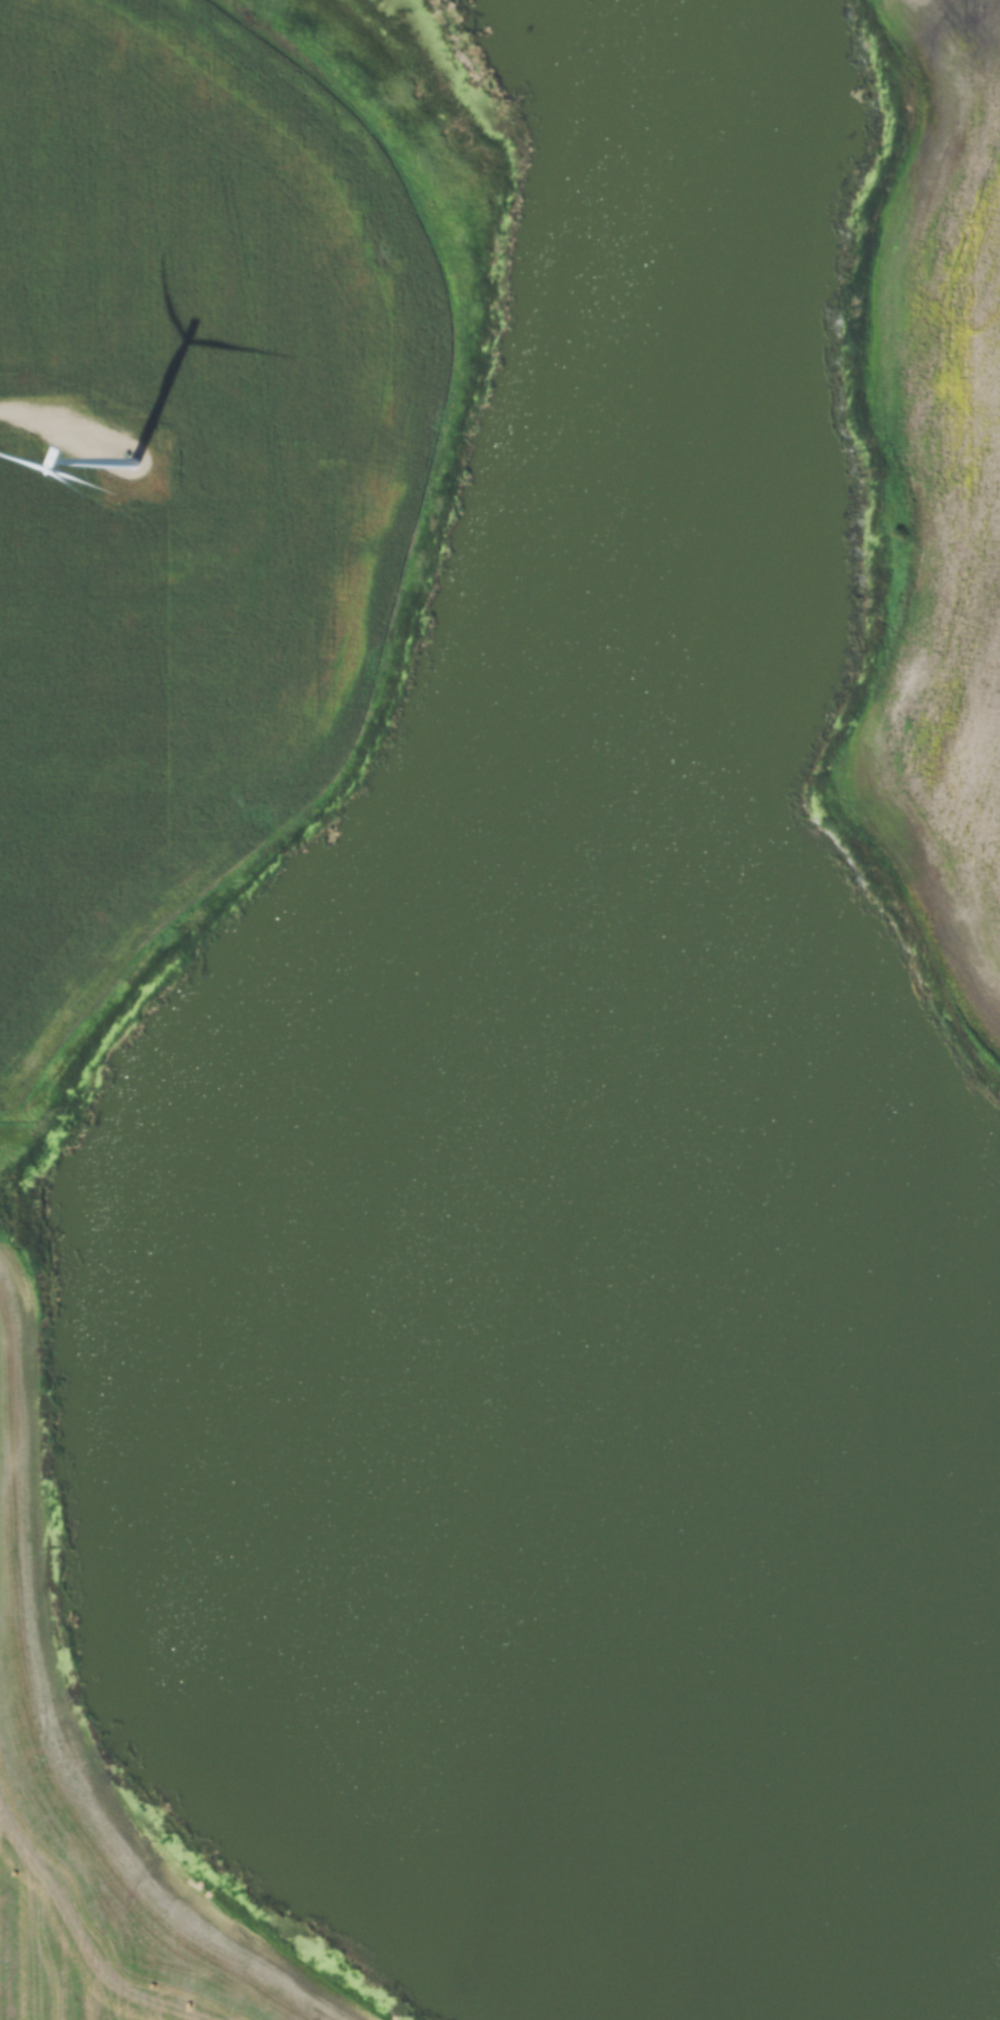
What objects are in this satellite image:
wind turbine: (130, 460)

